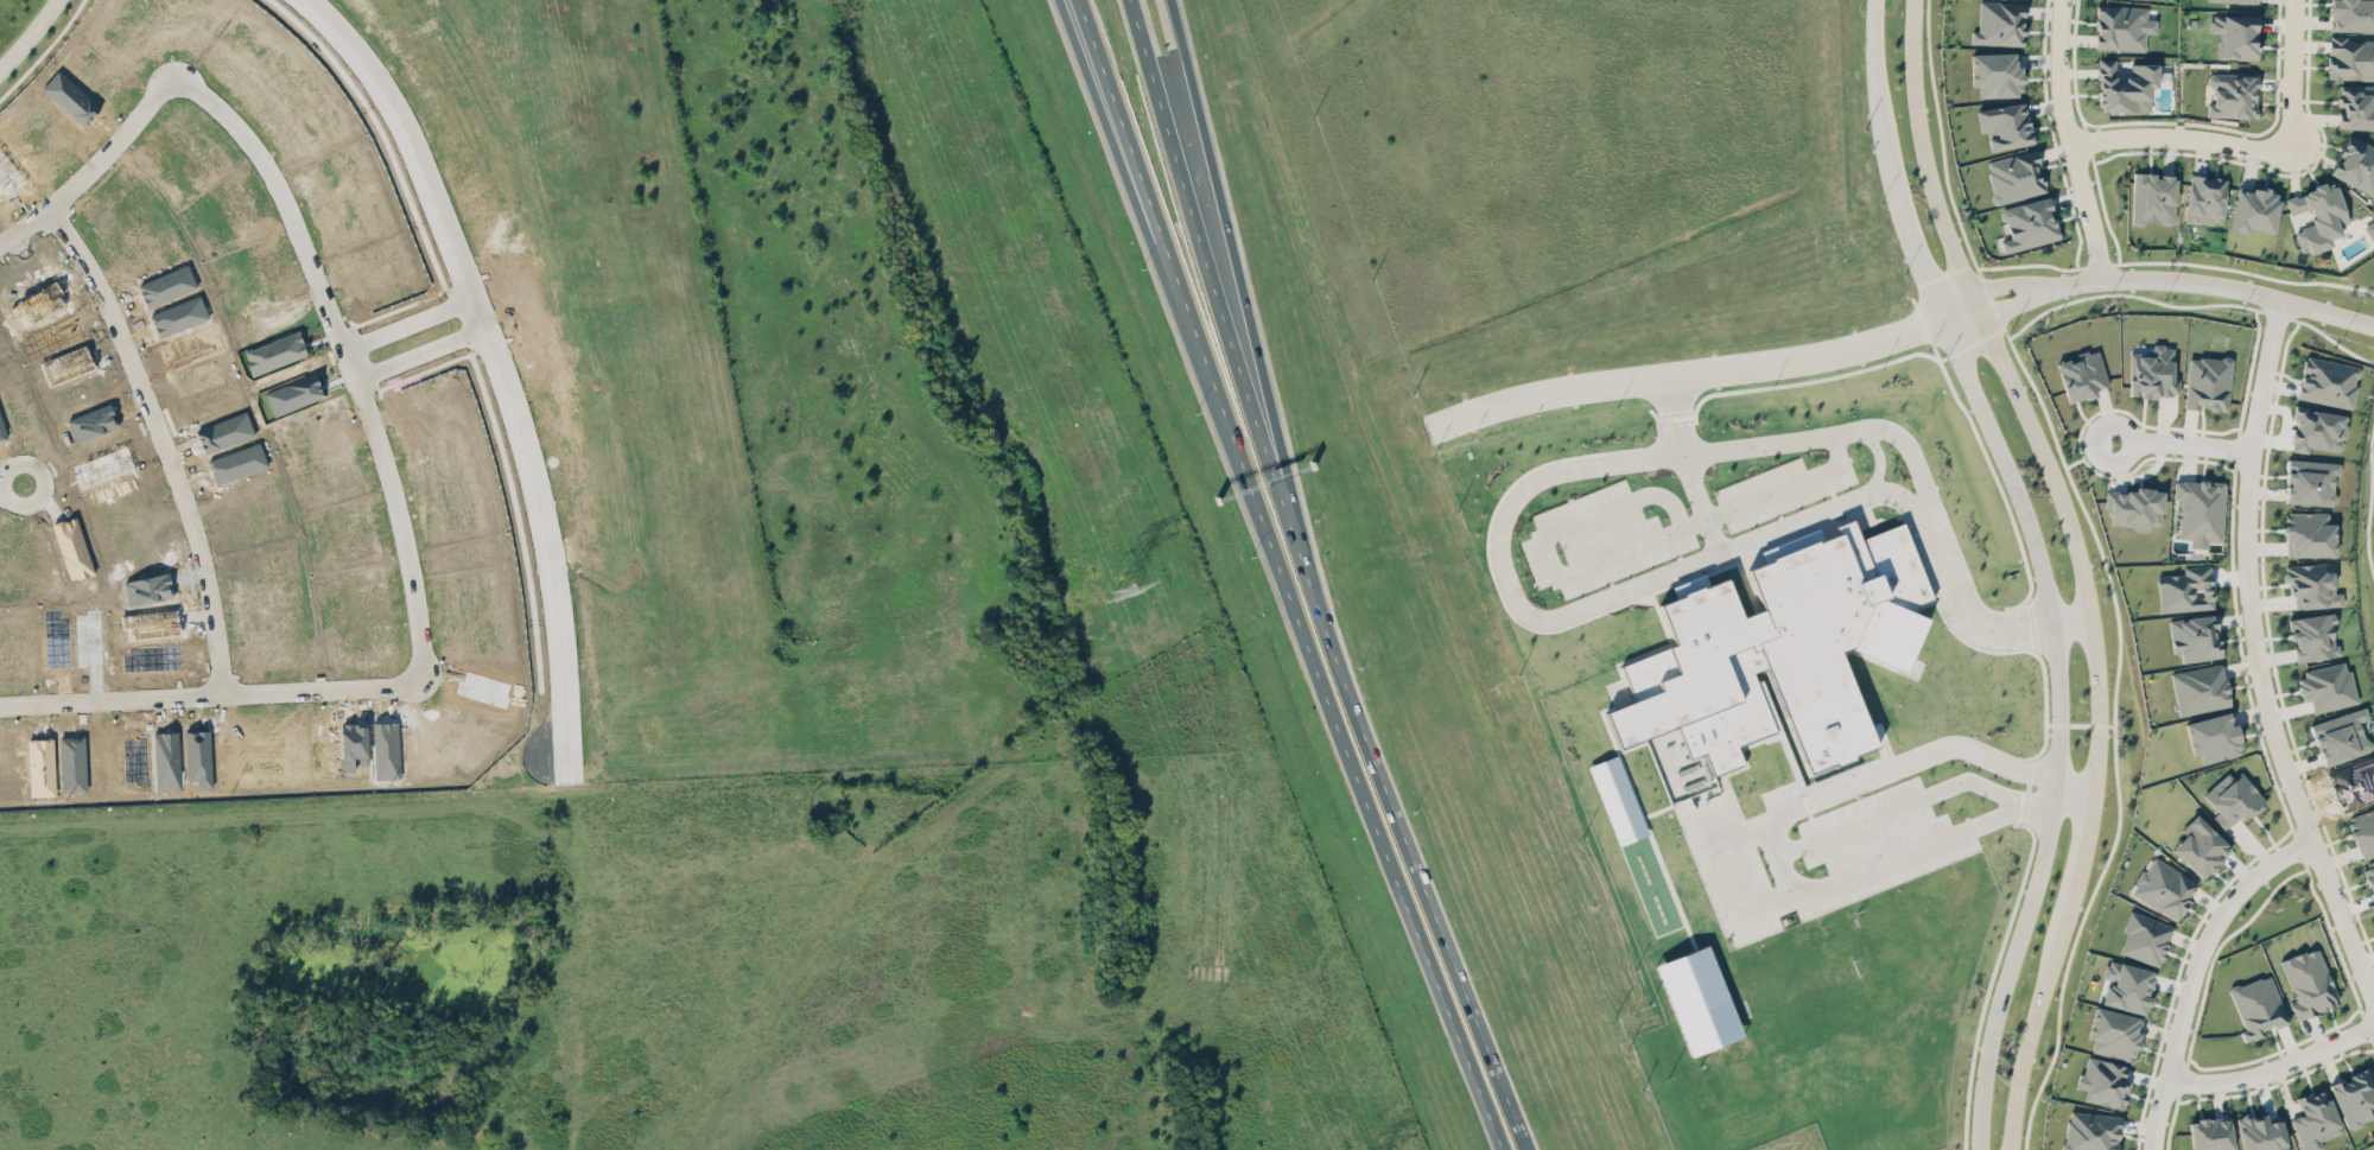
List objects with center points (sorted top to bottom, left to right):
building: (2234, 0)
building: (2351, 14)
building: (1999, 23)
building: (2120, 27)
building: (2235, 34)
road: (27, 36)
building: (2350, 58)
building: (1995, 74)
road: (2290, 74)
building: (2125, 87)
building: (2232, 95)
road: (1875, 100)
building: (2356, 106)
building: (2005, 125)
road: (2179, 134)
road: (2069, 138)
road: (413, 153)
building: (2355, 164)
building: (2013, 176)
building: (2152, 197)
building: (2205, 199)
building: (2254, 209)
building: (2318, 215)
building: (2027, 223)
building: (2369, 229)
road: (1915, 258)
road: (2099, 275)
road: (1244, 301)
road: (1219, 303)
road: (407, 325)
road: (2330, 339)
road: (419, 358)
building: (2153, 373)
road: (1683, 374)
building: (2081, 375)
building: (2328, 381)
building: (2207, 382)
road: (1207, 389)
road: (1217, 390)
building: (2313, 428)
road: (373, 438)
road: (165, 440)
road: (2171, 445)
building: (2310, 482)
road: (4, 488)
road: (42, 488)
road: (2370, 498)
road: (1701, 502)
building: (2135, 507)
building: (2200, 510)
building: (2308, 533)
road: (547, 553)
road: (2081, 565)
road: (1656, 578)
building: (2311, 585)
power tower: (1122, 590)
road: (1962, 603)
road: (2246, 623)
building: (2195, 637)
building: (1785, 653)
building: (2198, 688)
road: (2058, 719)
building: (2213, 736)
building: (2340, 736)
road: (335, 796)
building: (1618, 799)
building: (2234, 801)
road: (1899, 806)
building: (2362, 831)
road: (1772, 844)
building: (2200, 846)
building: (2369, 872)
road: (1420, 877)
building: (2163, 887)
building: (2144, 938)
road: (1428, 965)
road: (2183, 974)
building: (2308, 981)
building: (2126, 986)
building: (1699, 999)
building: (2256, 1006)
building: (2113, 1033)
road: (2268, 1067)
building: (2101, 1078)
building: (2355, 1097)
building: (2313, 1119)
building: (2090, 1131)
building: (2210, 1133)
building: (2260, 1133)
road: (1970, 1144)

